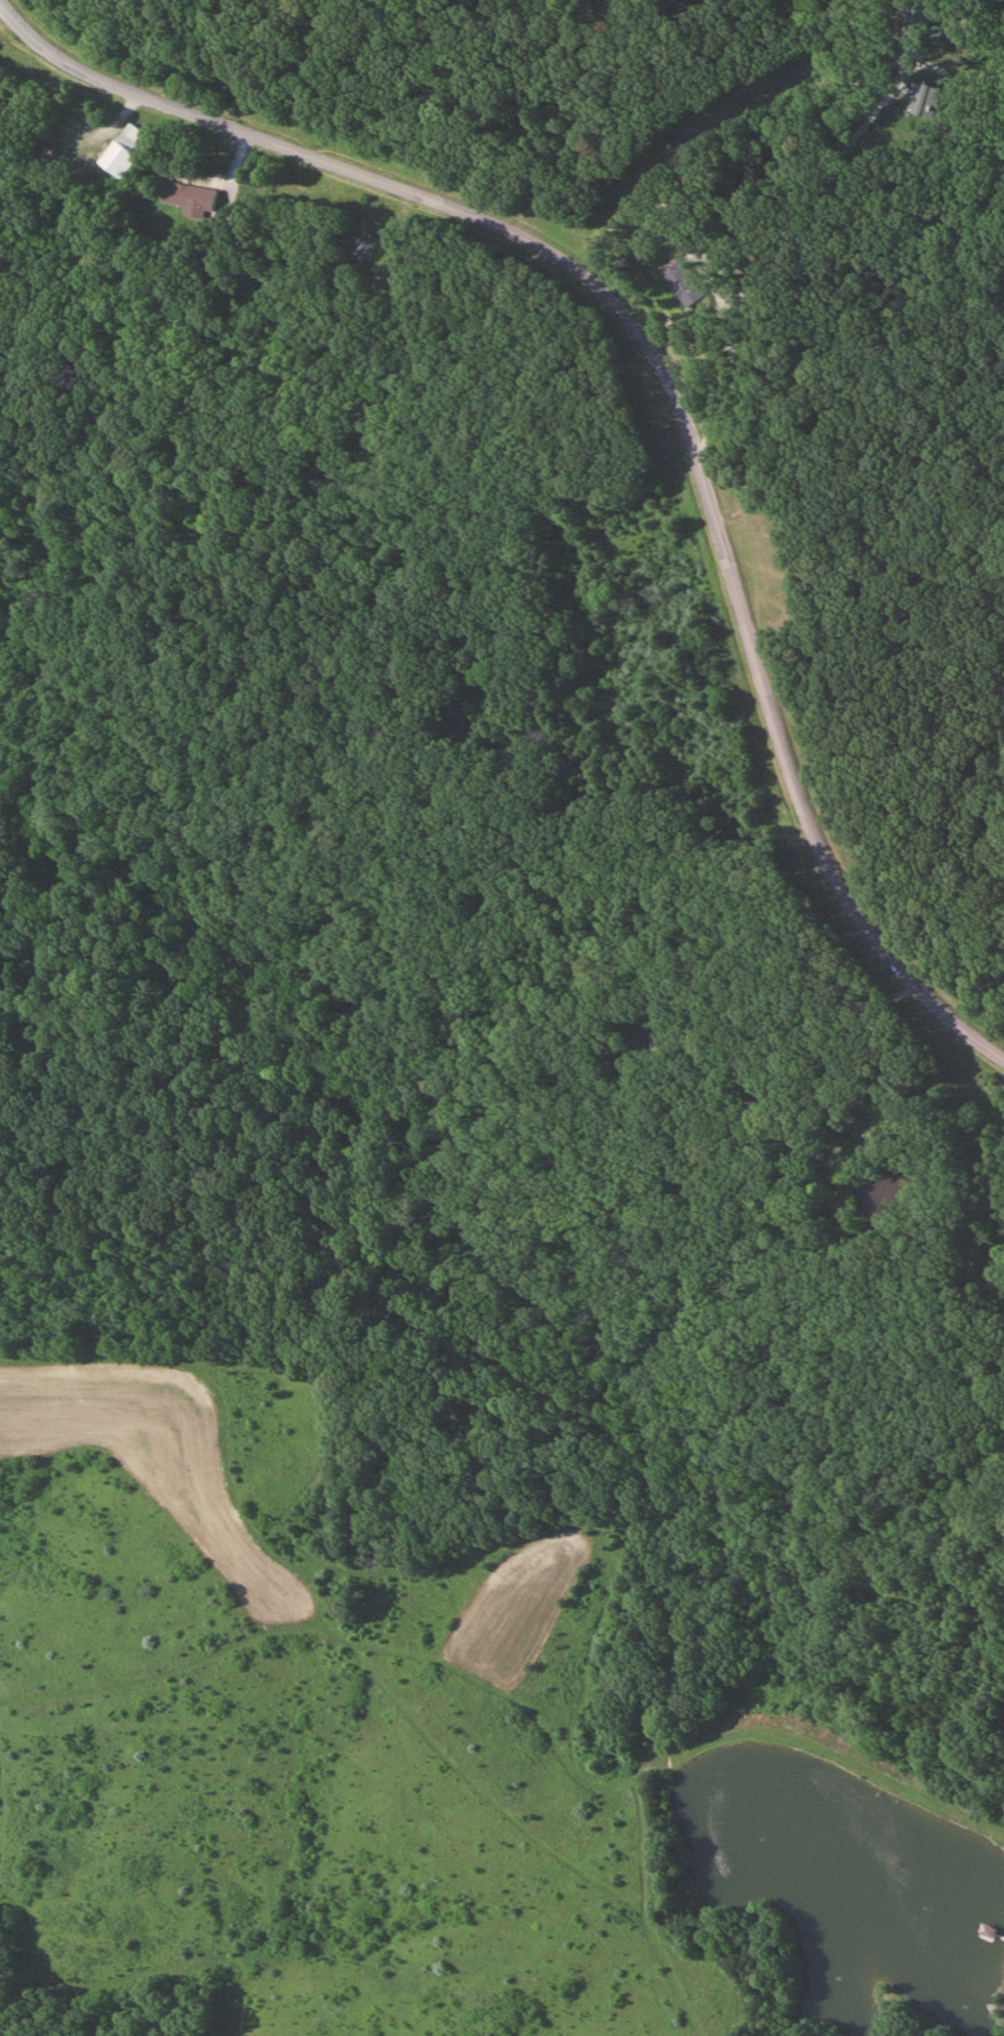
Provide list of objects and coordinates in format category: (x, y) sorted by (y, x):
building: (918, 22)
building: (933, 94)
building: (125, 151)
building: (191, 199)
road: (790, 222)
building: (377, 247)
road: (669, 375)
road: (789, 1031)

